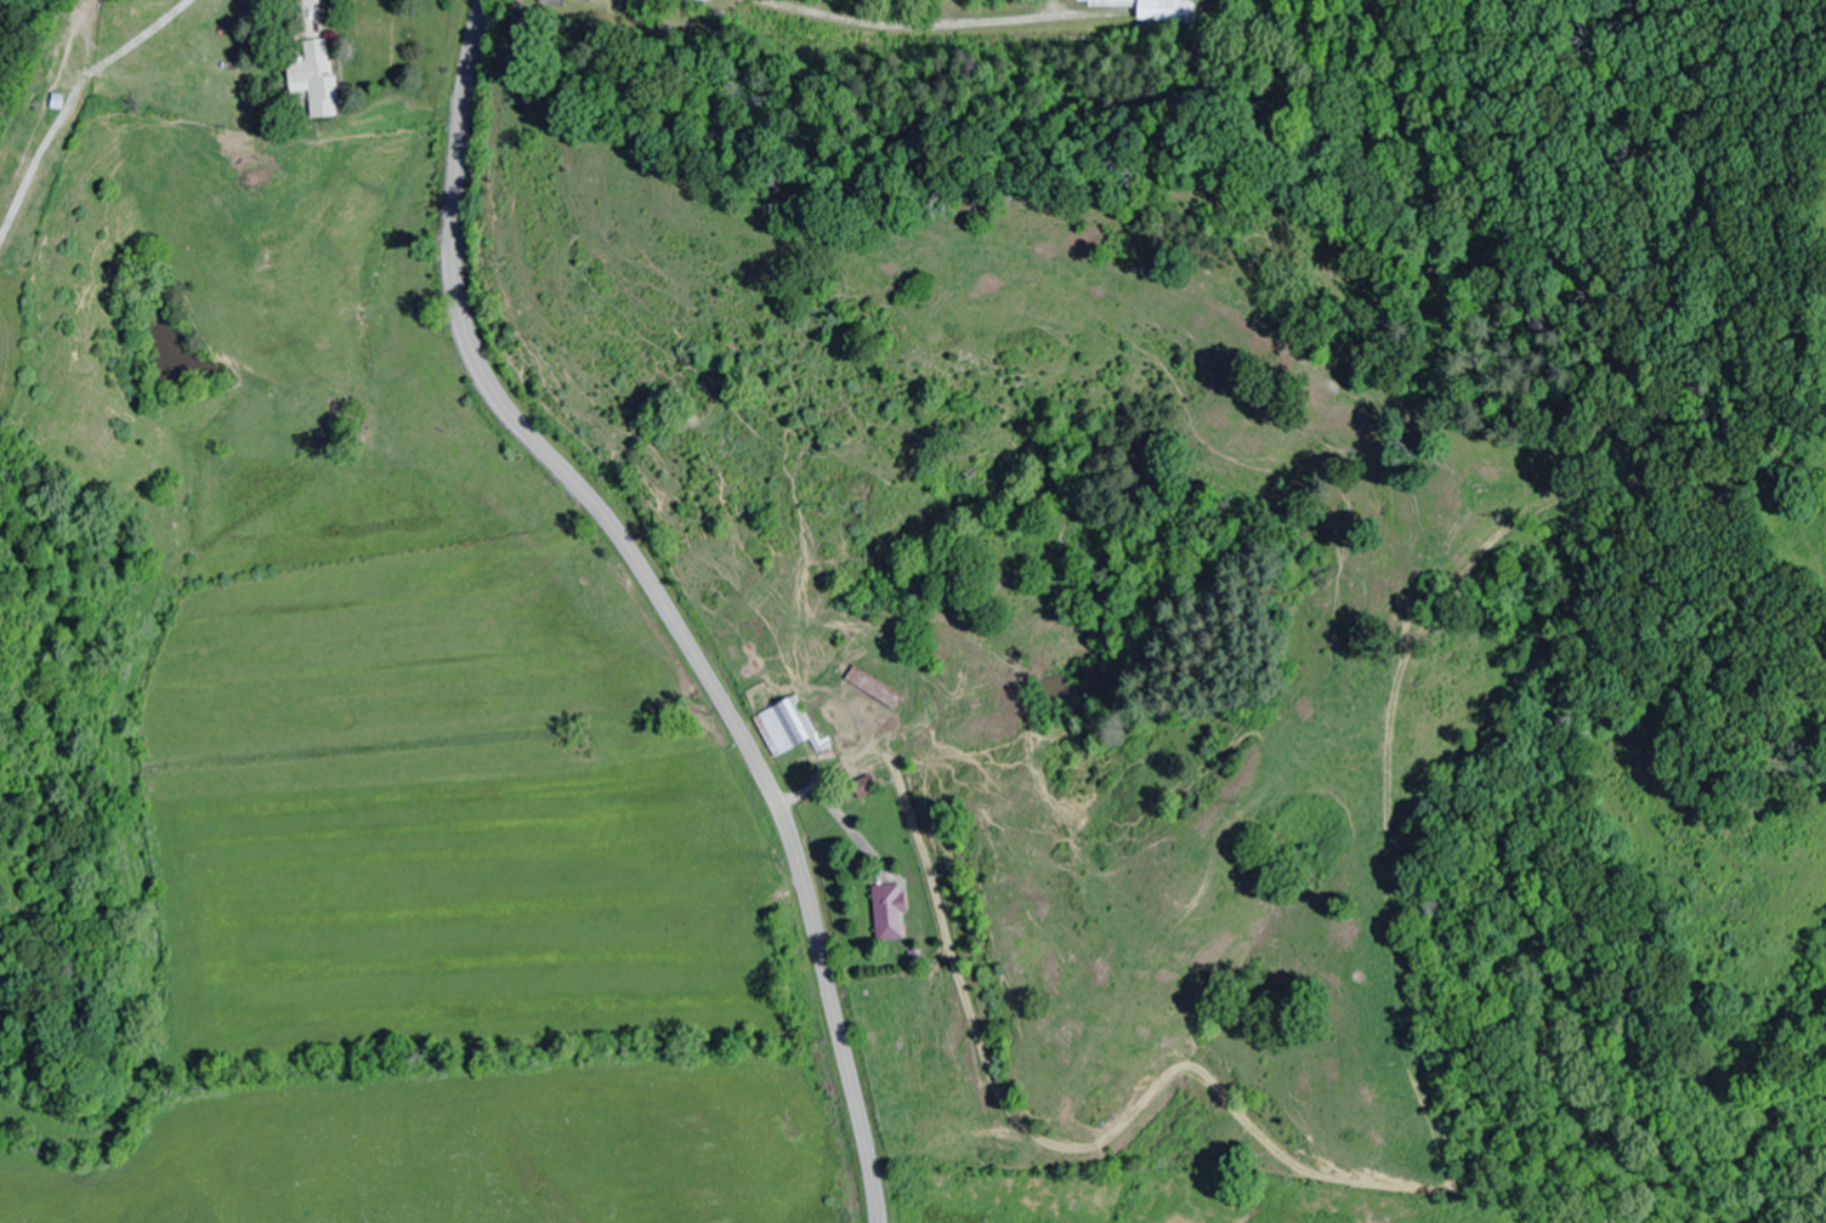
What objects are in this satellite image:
building: (599, 1)
building: (1156, 8)
building: (314, 74)
road: (659, 598)
building: (873, 687)
building: (783, 724)
building: (889, 911)

